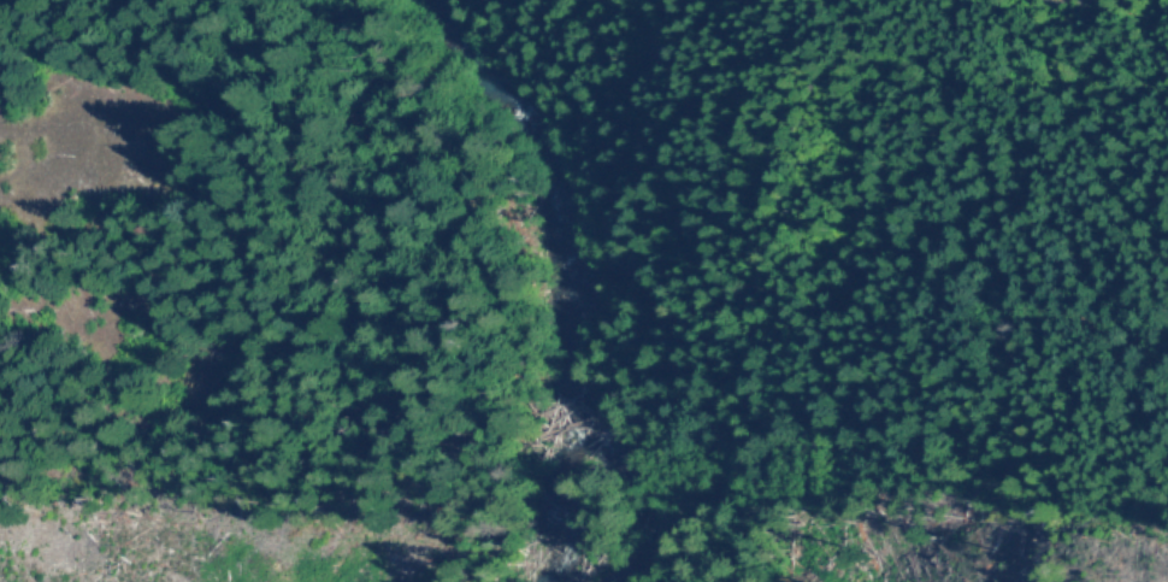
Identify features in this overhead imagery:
river: (614, 274)
road: (1052, 396)

